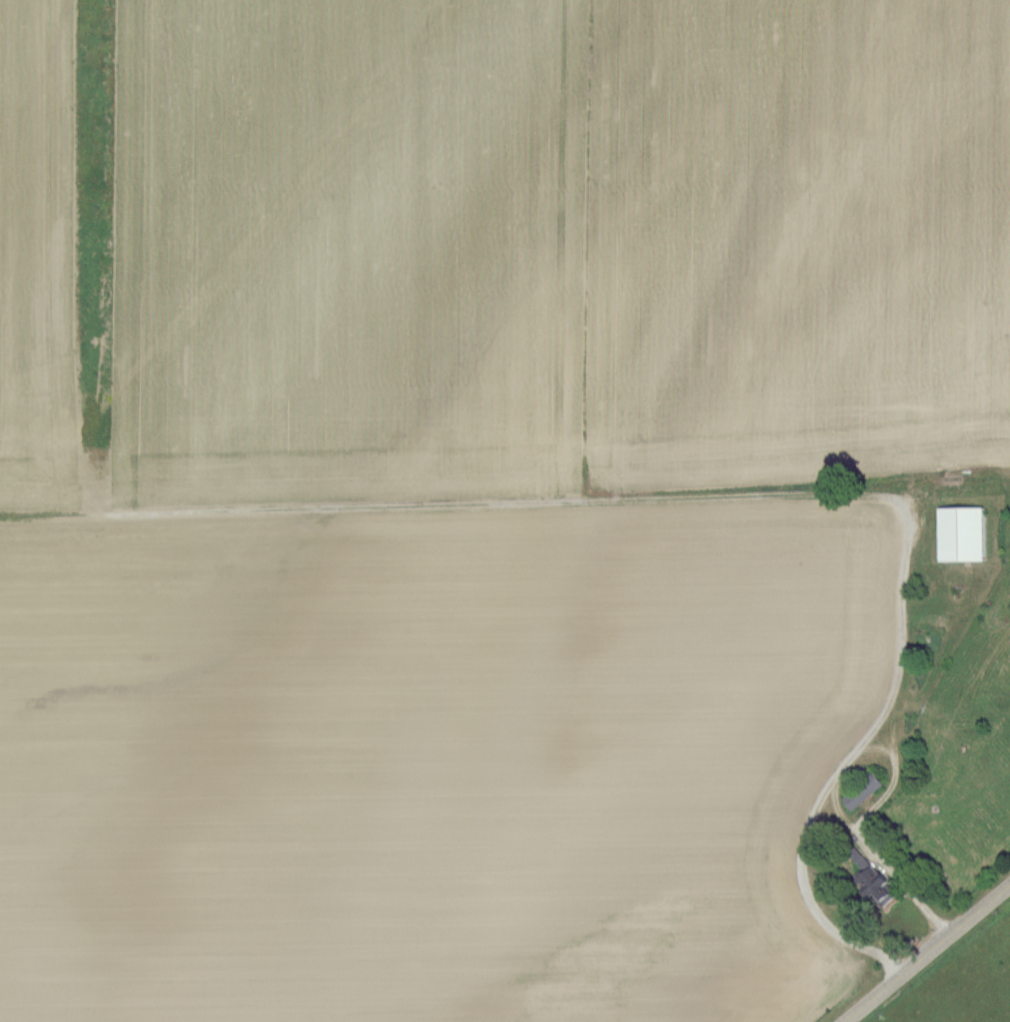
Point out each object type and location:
building: (962, 532)
road: (840, 763)
building: (863, 790)
road: (902, 882)
road: (926, 953)

